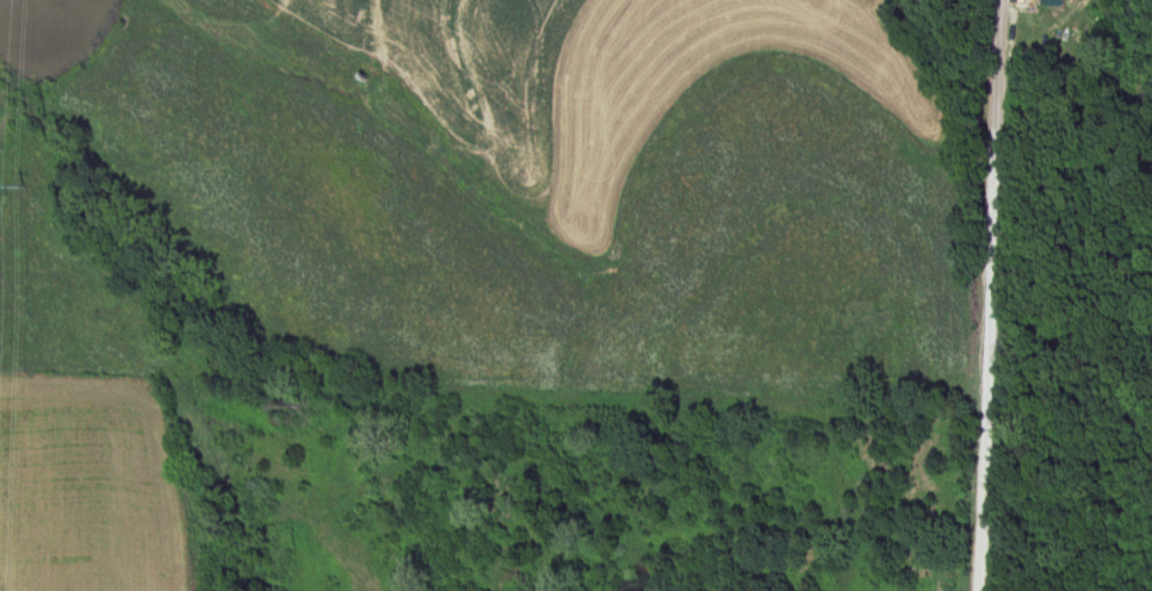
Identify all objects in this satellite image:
building: (1048, 2)
road: (992, 295)

